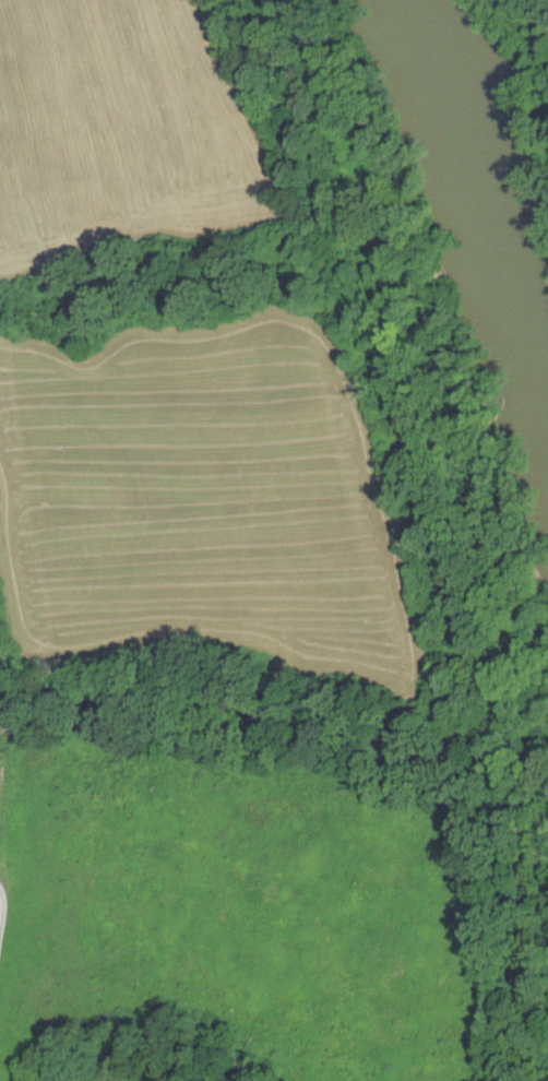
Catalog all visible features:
river: (498, 169)

